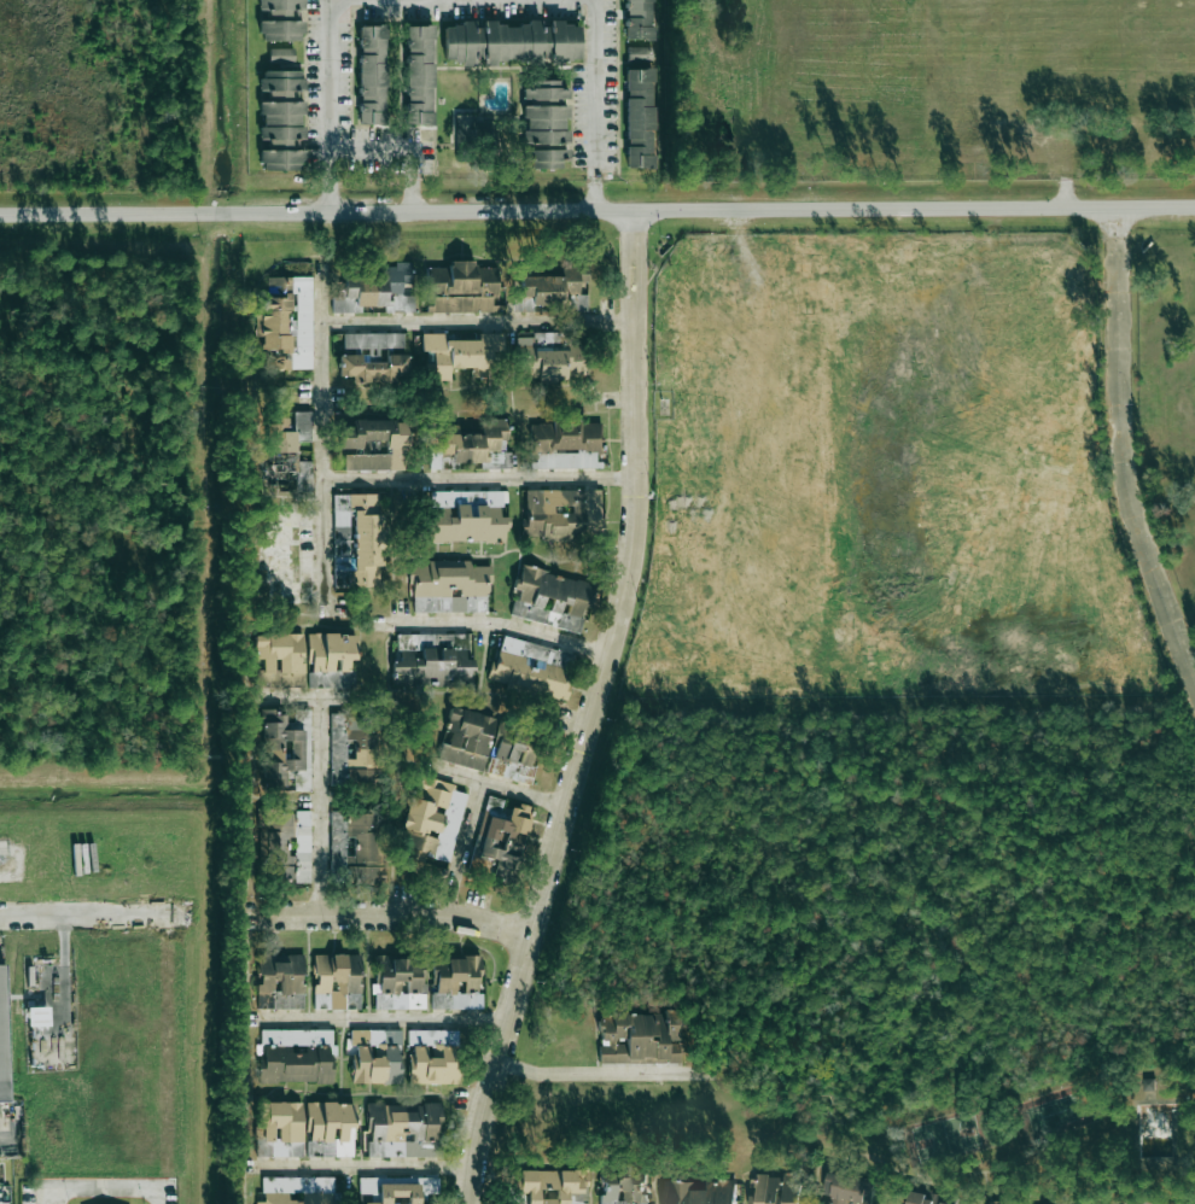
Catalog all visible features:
building: (639, 19)
building: (280, 21)
building: (511, 42)
building: (639, 54)
building: (281, 55)
building: (1066, 57)
building: (372, 75)
building: (419, 75)
road: (331, 103)
road: (596, 103)
building: (639, 117)
building: (281, 121)
building: (544, 125)
building: (464, 127)
road: (597, 211)
building: (558, 287)
building: (460, 288)
building: (374, 291)
road: (479, 320)
building: (287, 322)
building: (373, 340)
building: (462, 353)
building: (550, 357)
building: (375, 369)
road: (327, 442)
building: (478, 444)
building: (375, 445)
building: (565, 445)
road: (1121, 445)
building: (291, 450)
road: (482, 477)
building: (560, 509)
building: (467, 516)
building: (357, 539)
building: (449, 586)
building: (550, 598)
road: (507, 625)
building: (432, 659)
building: (280, 660)
building: (331, 660)
building: (531, 667)
road: (591, 711)
building: (286, 748)
building: (352, 752)
building: (513, 755)
road: (509, 789)
road: (321, 806)
building: (432, 820)
building: (270, 822)
building: (502, 835)
building: (357, 846)
road: (464, 847)
building: (288, 848)
road: (386, 913)
road: (87, 918)
building: (337, 981)
building: (280, 982)
building: (398, 983)
building: (456, 983)
road: (390, 1017)
building: (641, 1038)
building: (2, 1040)
road: (175, 1048)
road: (692, 1051)
building: (296, 1056)
building: (375, 1056)
building: (432, 1056)
road: (605, 1076)
building: (279, 1129)
building: (330, 1129)
building: (406, 1130)
road: (363, 1165)
building: (624, 1183)
road: (101, 1185)
building: (548, 1185)
building: (775, 1188)
building: (400, 1190)
building: (849, 1190)
building: (297, 1191)
building: (699, 1192)
building: (923, 1198)
road: (1124, 1202)
building: (1146, 1202)
building: (577, 1203)
building: (987, 1203)

